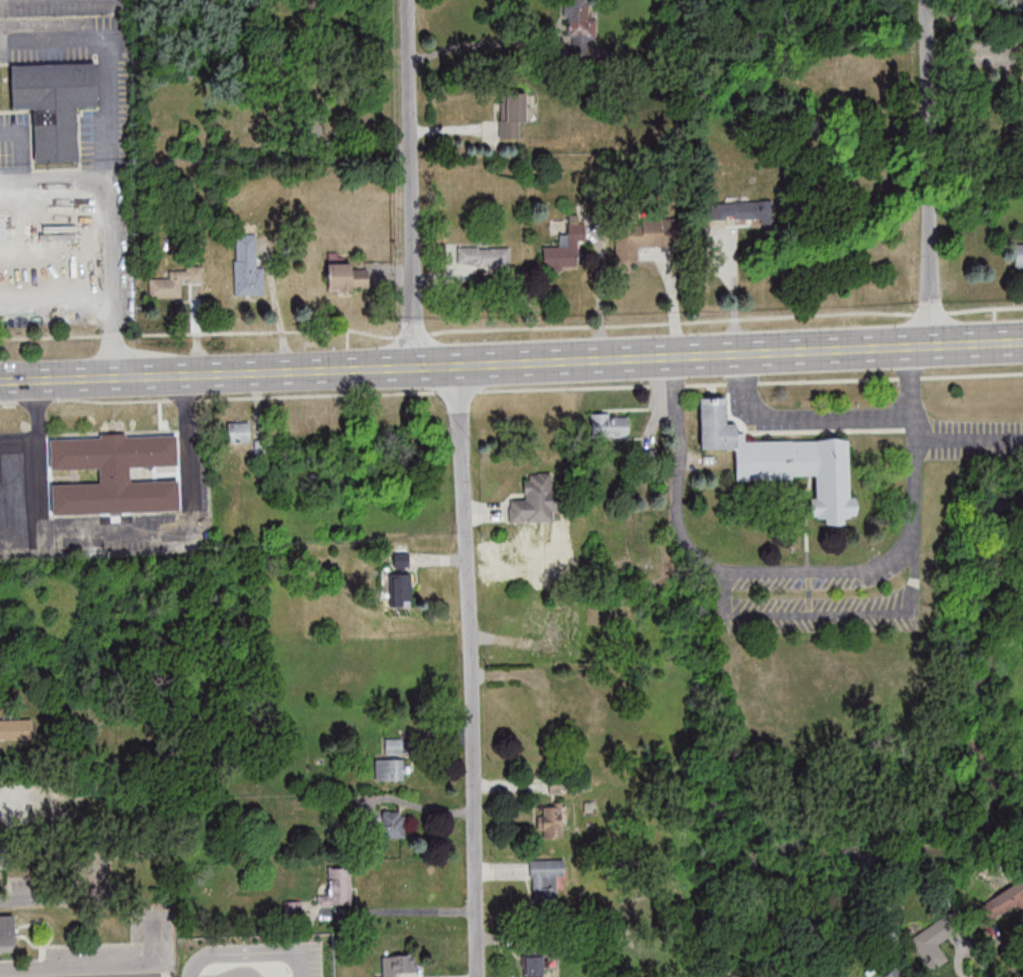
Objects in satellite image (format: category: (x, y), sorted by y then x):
building: (580, 26)
road: (486, 40)
building: (54, 104)
building: (512, 114)
road: (113, 122)
road: (928, 173)
road: (412, 183)
building: (752, 211)
building: (642, 237)
building: (564, 249)
road: (734, 253)
building: (1018, 255)
building: (483, 256)
building: (247, 266)
building: (24, 268)
building: (346, 277)
building: (175, 282)
road: (598, 296)
road: (93, 306)
road: (985, 310)
road: (929, 312)
road: (994, 315)
road: (671, 322)
road: (197, 332)
road: (995, 332)
road: (412, 334)
road: (717, 354)
road: (206, 374)
road: (971, 374)
road: (413, 377)
road: (908, 377)
road: (828, 380)
road: (741, 382)
road: (705, 384)
road: (667, 385)
road: (563, 388)
road: (414, 390)
road: (455, 390)
road: (243, 397)
road: (9, 400)
road: (35, 400)
road: (801, 417)
building: (609, 424)
building: (238, 431)
road: (968, 440)
road: (913, 445)
road: (17, 452)
building: (784, 461)
building: (114, 474)
building: (534, 500)
road: (109, 534)
road: (19, 538)
road: (705, 560)
building: (400, 574)
road: (830, 615)
building: (561, 632)
road: (467, 670)
building: (16, 729)
building: (393, 746)
building: (390, 769)
building: (552, 819)
building: (392, 824)
building: (0, 869)
building: (545, 878)
building: (337, 887)
road: (45, 895)
road: (411, 911)
building: (7, 933)
building: (932, 946)
road: (1005, 949)
road: (246, 953)
road: (104, 962)
building: (538, 963)
building: (399, 965)
road: (240, 976)

